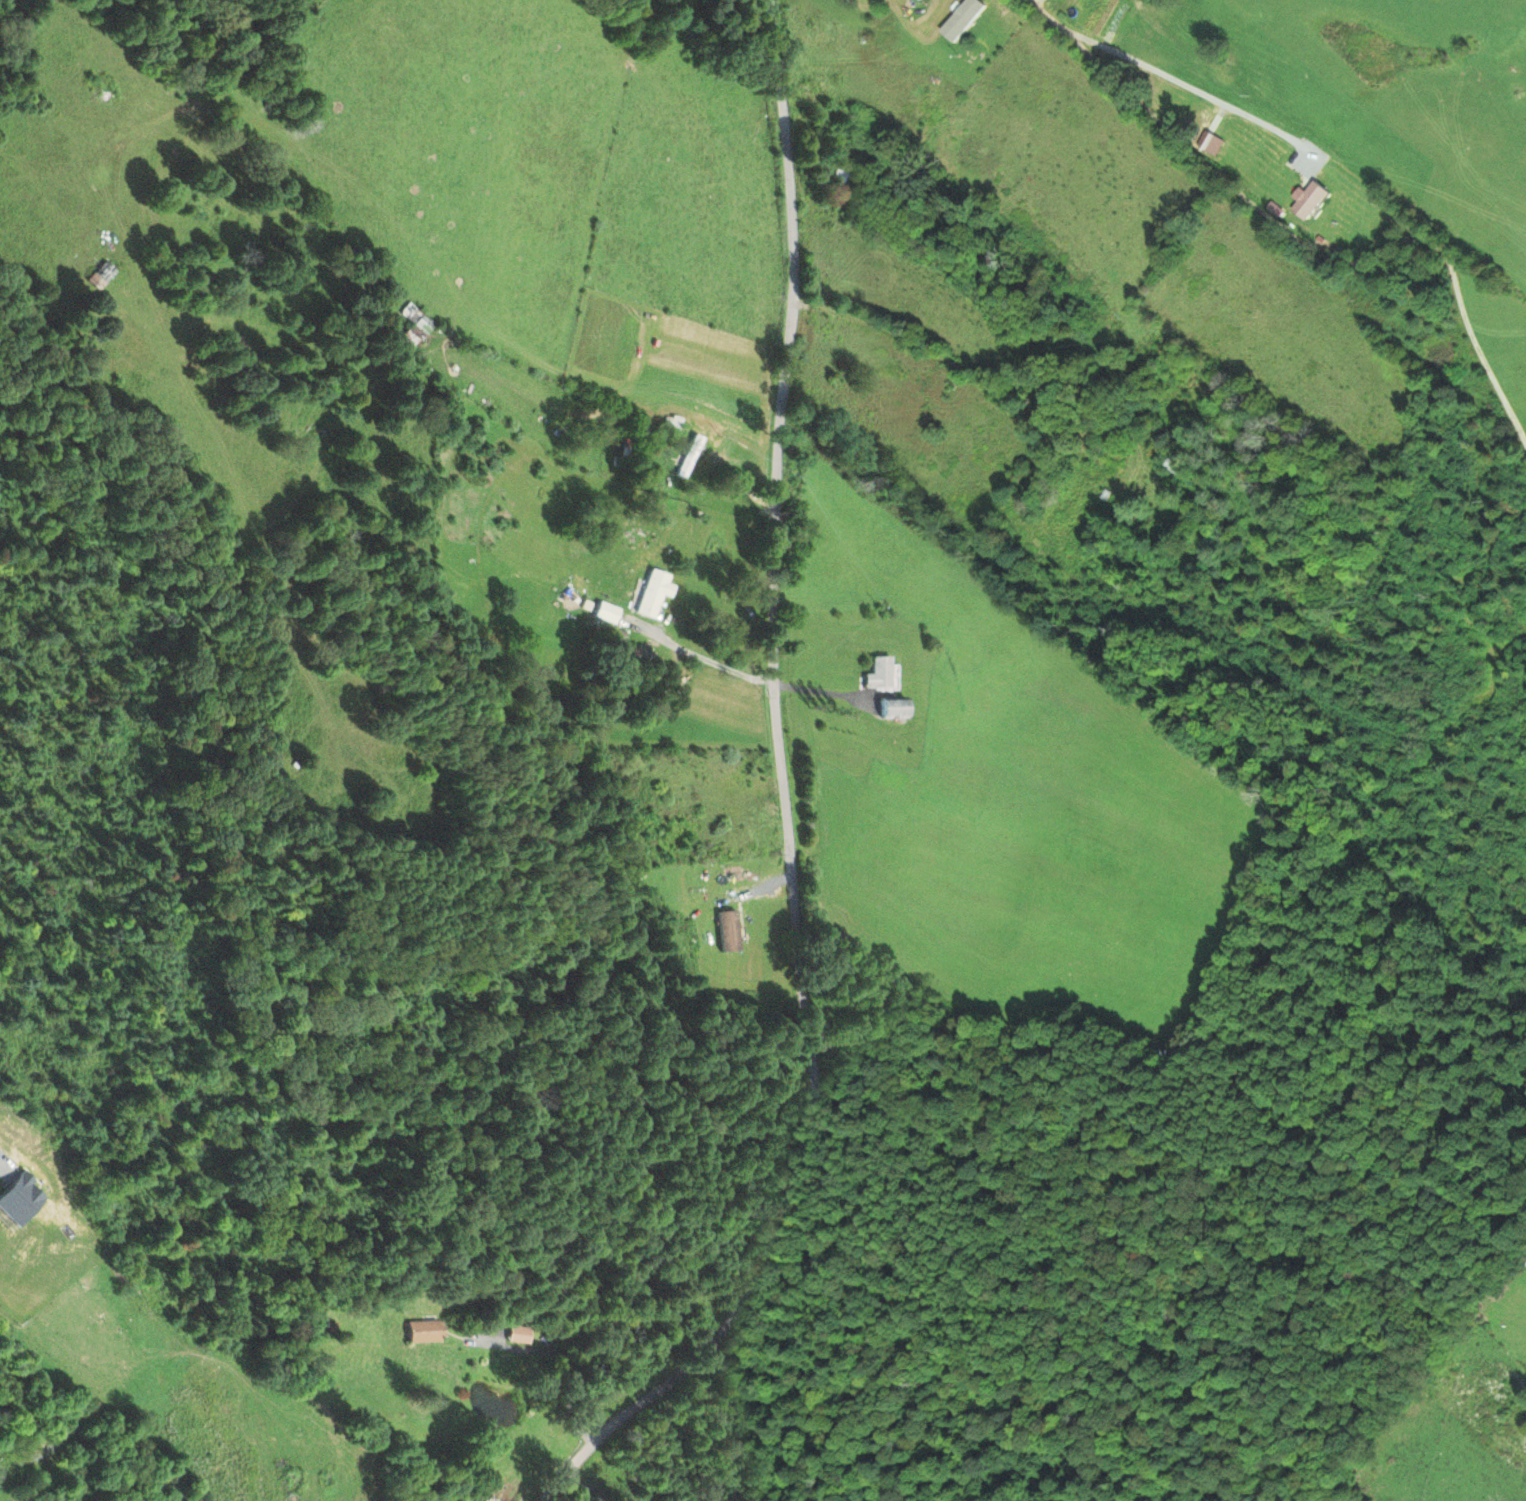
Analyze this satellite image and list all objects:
building: (918, 0)
building: (1083, 17)
road: (1193, 91)
building: (842, 177)
building: (1310, 202)
road: (1301, 246)
building: (102, 275)
building: (417, 323)
building: (691, 457)
building: (1174, 466)
building: (654, 593)
building: (880, 674)
road: (821, 692)
building: (894, 710)
road: (785, 799)
building: (729, 932)
building: (426, 1333)
building: (520, 1336)
road: (593, 1485)

